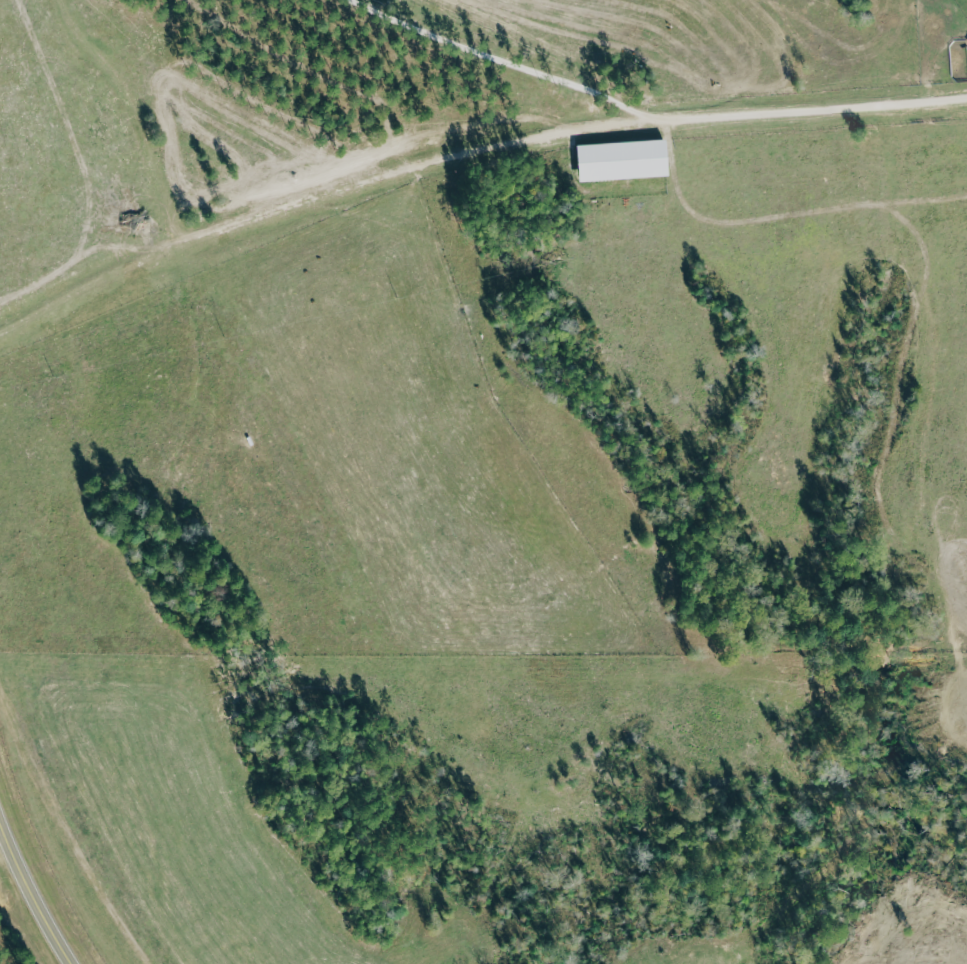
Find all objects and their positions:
road: (468, 150)
building: (626, 160)
road: (31, 893)

